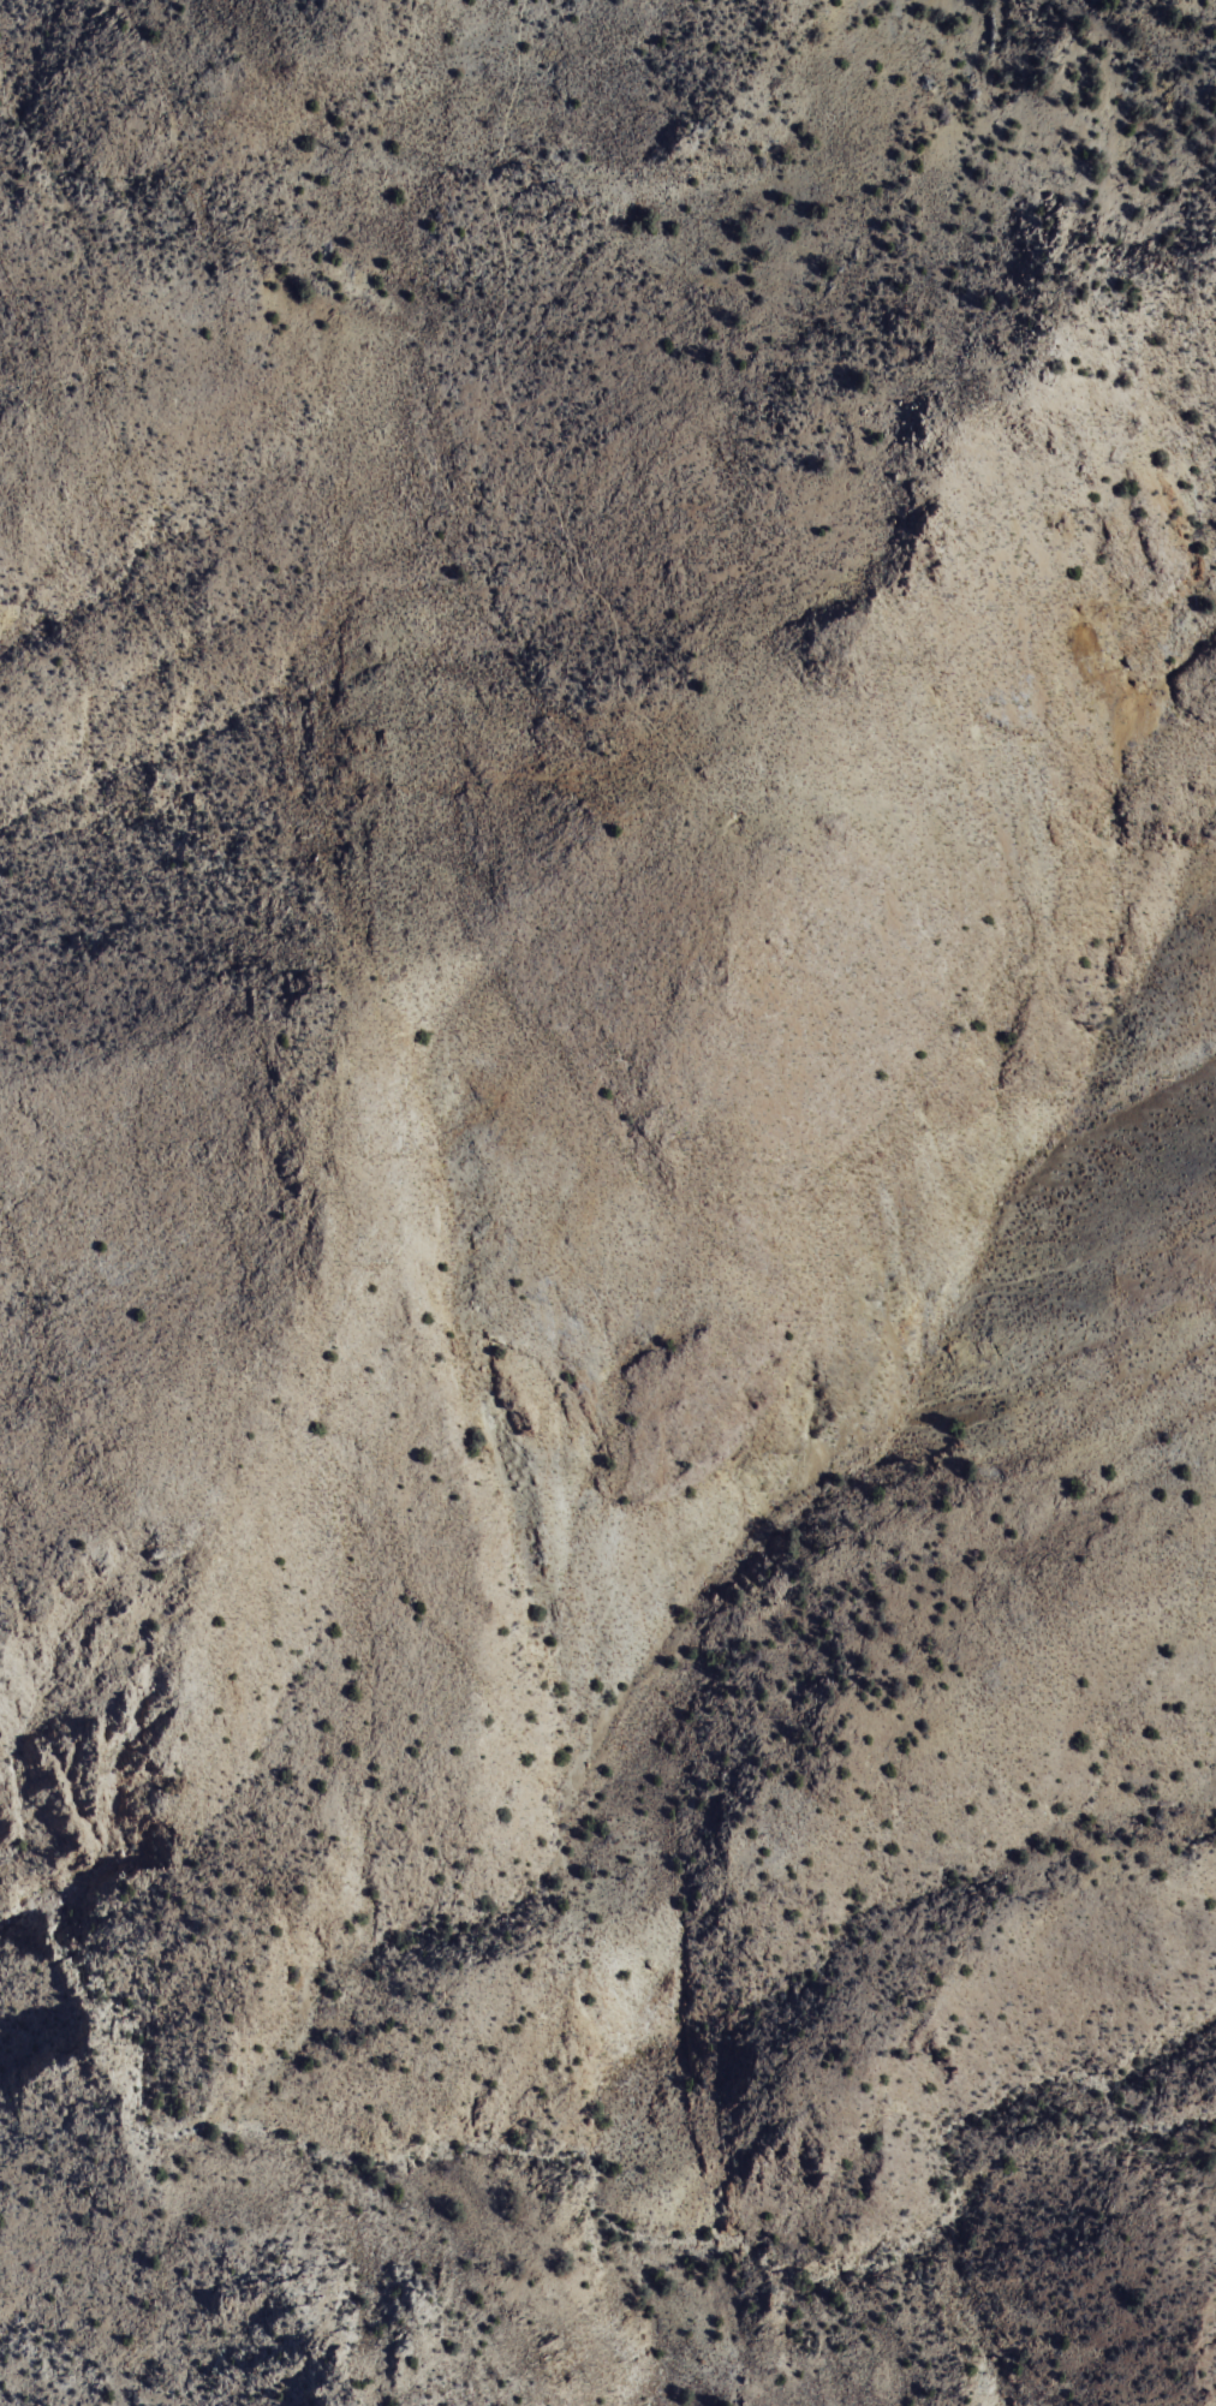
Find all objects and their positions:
road: (1200, 717)

